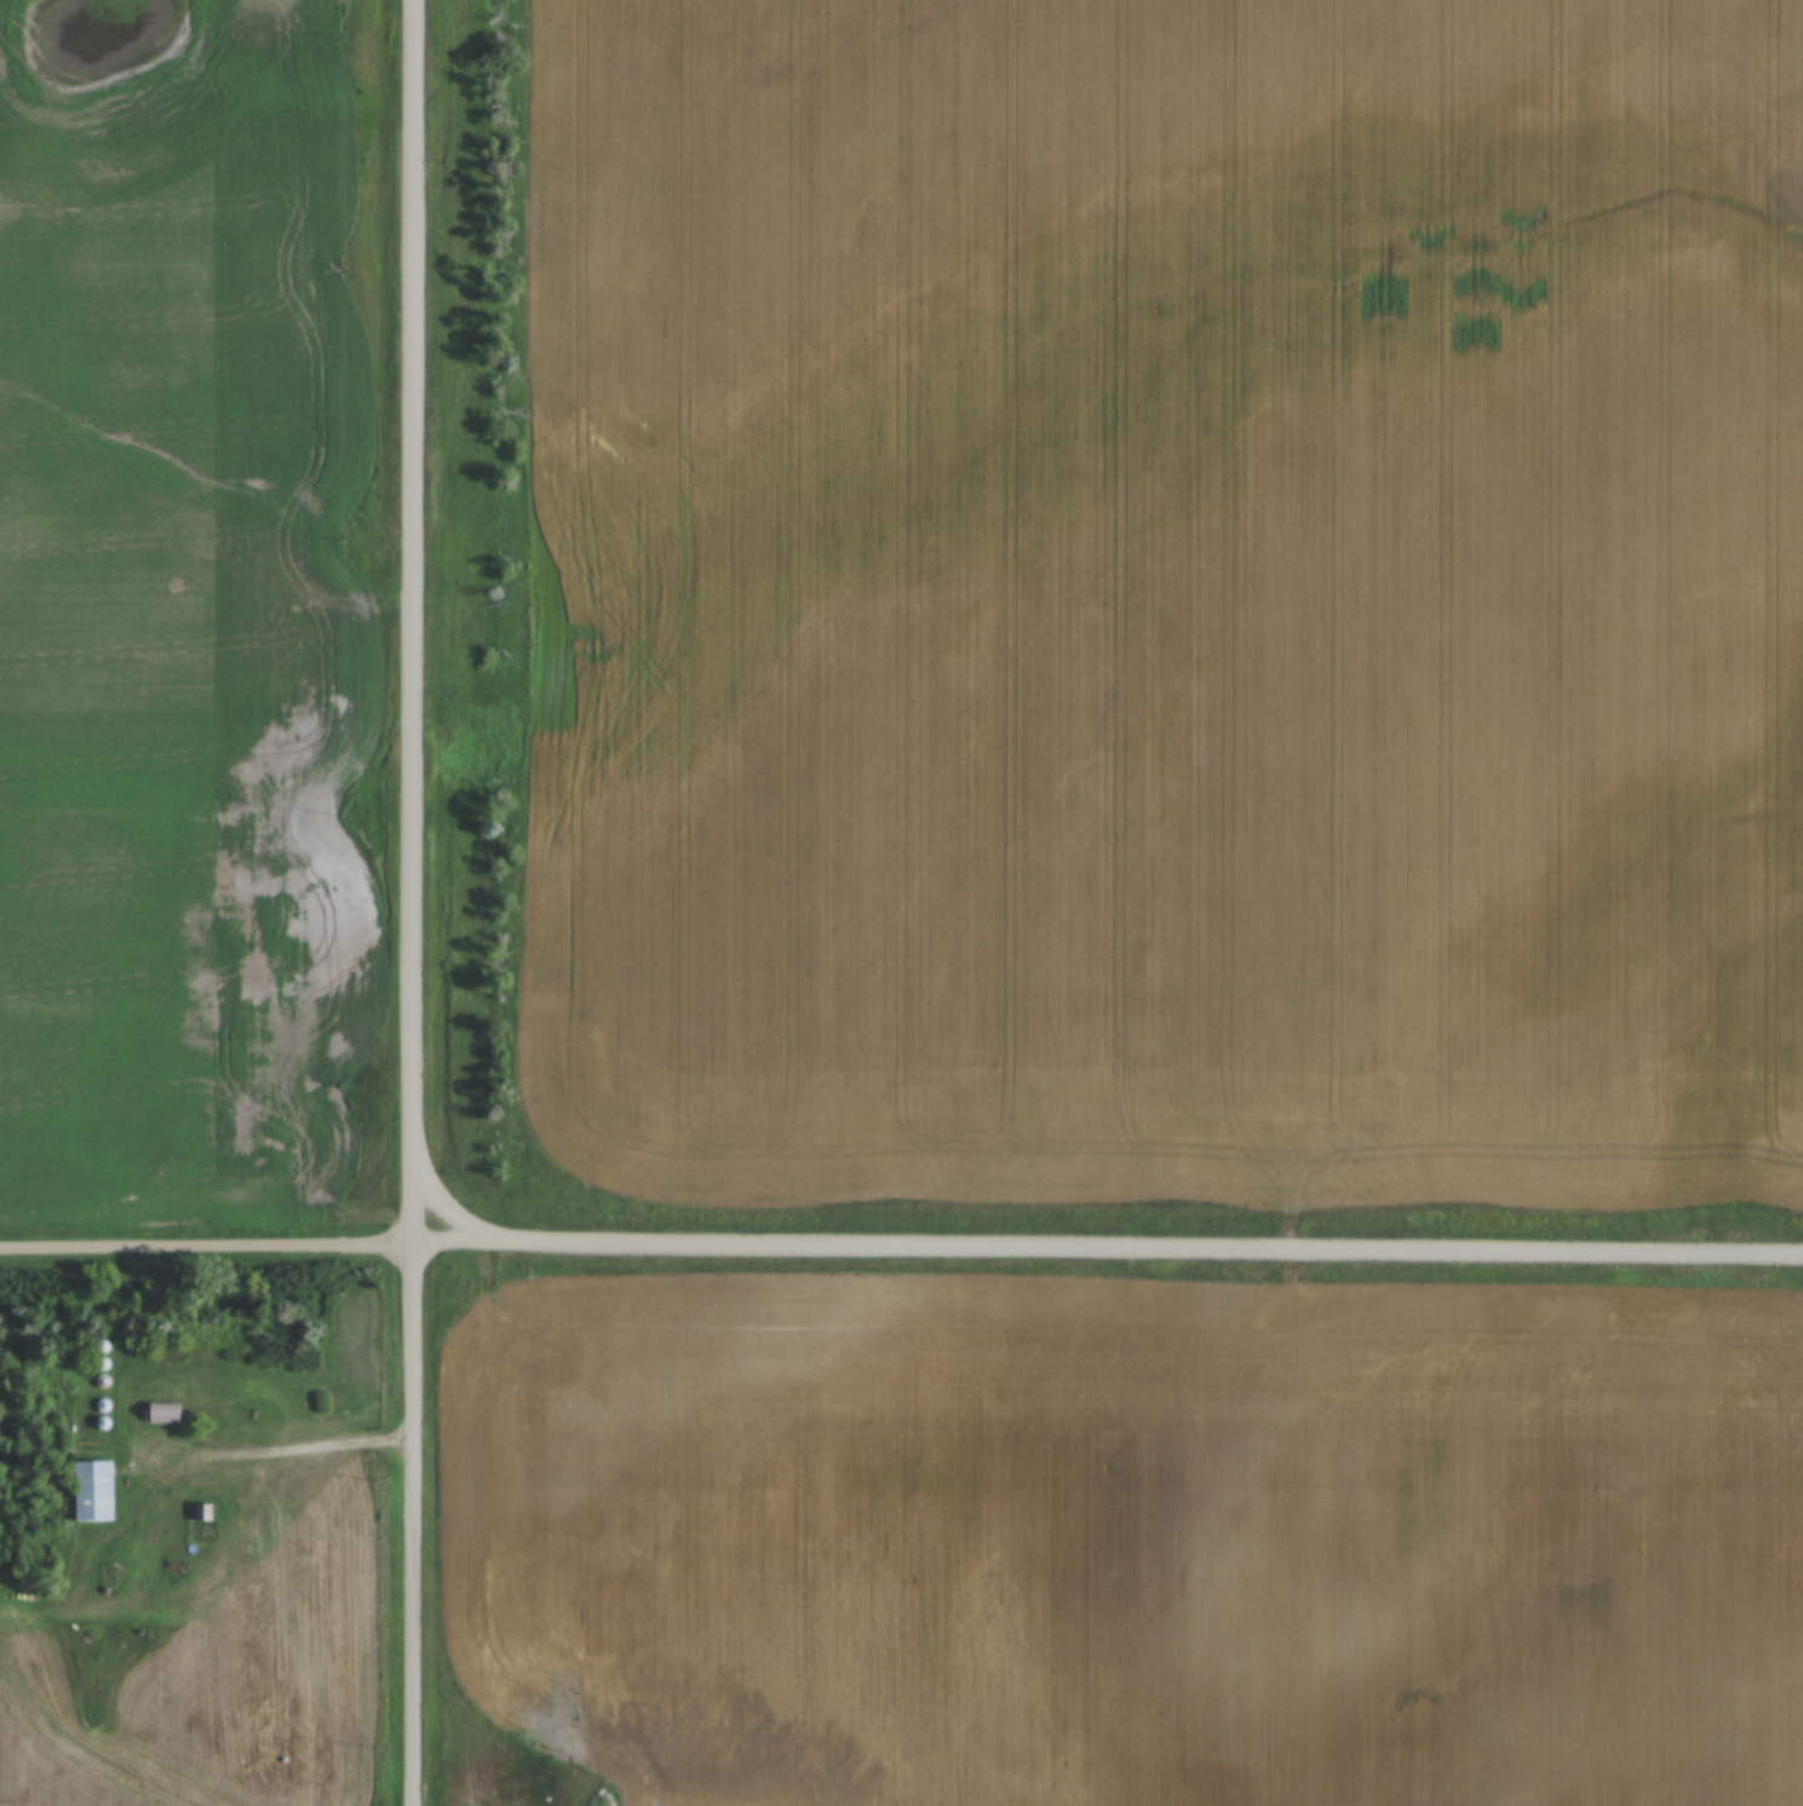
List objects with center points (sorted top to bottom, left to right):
road: (413, 902)
road: (449, 1207)
road: (206, 1246)
road: (1107, 1248)
building: (163, 1413)
road: (264, 1454)
building: (93, 1490)
building: (203, 1512)

